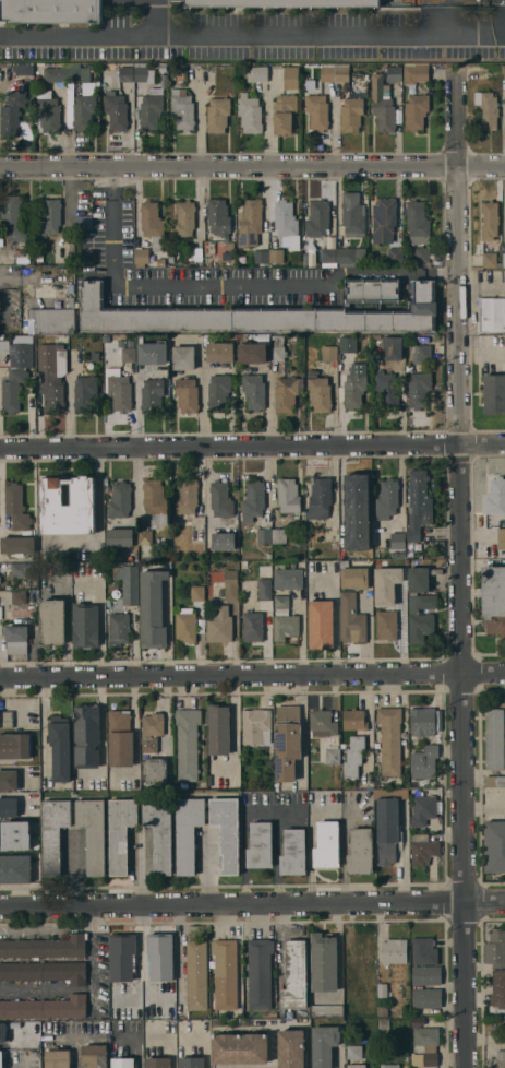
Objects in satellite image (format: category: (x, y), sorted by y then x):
building: (282, 3)
building: (56, 11)
road: (446, 16)
road: (151, 19)
road: (252, 37)
building: (163, 67)
building: (218, 69)
building: (23, 70)
building: (504, 71)
building: (77, 72)
building: (140, 72)
building: (416, 72)
building: (125, 73)
building: (256, 73)
building: (335, 73)
building: (394, 73)
building: (55, 74)
building: (151, 76)
building: (290, 78)
building: (230, 85)
building: (87, 87)
building: (357, 87)
building: (382, 104)
building: (488, 108)
building: (151, 109)
building: (182, 109)
building: (116, 110)
building: (48, 111)
building: (83, 111)
building: (317, 111)
building: (416, 111)
building: (12, 112)
building: (285, 112)
building: (217, 114)
building: (250, 114)
building: (351, 115)
road: (252, 165)
road: (112, 185)
building: (113, 200)
building: (352, 214)
building: (50, 215)
building: (218, 216)
building: (12, 217)
building: (184, 218)
building: (318, 218)
building: (490, 219)
building: (384, 221)
building: (250, 223)
building: (287, 223)
building: (418, 223)
building: (153, 224)
building: (351, 254)
building: (422, 254)
building: (142, 256)
building: (261, 256)
building: (277, 256)
building: (328, 257)
building: (395, 257)
building: (490, 259)
building: (171, 260)
building: (160, 262)
building: (375, 262)
road: (388, 275)
road: (178, 286)
road: (482, 289)
building: (374, 292)
building: (71, 301)
building: (492, 313)
building: (254, 315)
building: (52, 321)
building: (376, 336)
building: (32, 337)
building: (340, 341)
building: (393, 347)
building: (278, 348)
building: (220, 351)
building: (253, 352)
building: (423, 352)
building: (153, 353)
building: (329, 353)
building: (129, 354)
building: (95, 356)
building: (183, 357)
building: (15, 372)
building: (50, 377)
building: (387, 387)
building: (118, 389)
building: (419, 389)
building: (353, 390)
building: (218, 391)
building: (254, 391)
building: (84, 392)
building: (318, 392)
building: (288, 393)
building: (494, 393)
building: (152, 395)
building: (187, 395)
road: (203, 401)
road: (252, 447)
road: (0, 488)
building: (288, 495)
building: (187, 496)
building: (495, 497)
building: (320, 498)
building: (387, 498)
building: (220, 499)
building: (254, 499)
building: (120, 500)
building: (156, 502)
building: (419, 503)
building: (68, 506)
building: (16, 507)
building: (357, 511)
road: (101, 522)
building: (264, 535)
building: (278, 535)
building: (120, 537)
building: (501, 537)
building: (398, 539)
building: (223, 541)
building: (145, 543)
building: (16, 546)
building: (395, 554)
building: (402, 554)
building: (268, 555)
building: (19, 570)
building: (263, 570)
road: (460, 575)
building: (288, 578)
building: (354, 578)
building: (129, 584)
building: (230, 584)
building: (264, 589)
building: (398, 591)
building: (197, 593)
building: (19, 597)
building: (378, 598)
building: (494, 598)
building: (281, 602)
building: (420, 605)
building: (152, 608)
building: (351, 618)
building: (52, 621)
building: (386, 621)
building: (321, 624)
building: (185, 625)
building: (219, 625)
building: (85, 626)
building: (253, 626)
building: (286, 626)
building: (118, 629)
building: (16, 639)
road: (252, 676)
building: (5, 720)
building: (354, 720)
building: (422, 722)
building: (323, 723)
building: (256, 726)
building: (219, 729)
building: (152, 731)
building: (86, 735)
building: (120, 738)
building: (494, 738)
building: (389, 739)
building: (287, 741)
building: (188, 743)
building: (14, 746)
building: (60, 748)
building: (333, 756)
building: (353, 756)
building: (424, 762)
building: (157, 769)
building: (9, 780)
building: (494, 781)
building: (159, 786)
building: (9, 807)
building: (423, 809)
building: (8, 826)
building: (387, 830)
building: (227, 831)
building: (120, 832)
building: (159, 832)
building: (188, 832)
building: (93, 833)
building: (53, 834)
road: (243, 842)
road: (310, 843)
building: (327, 844)
building: (260, 845)
road: (276, 846)
building: (494, 846)
building: (424, 847)
building: (293, 852)
building: (360, 852)
building: (15, 868)
road: (74, 870)
road: (252, 906)
building: (46, 947)
building: (495, 948)
building: (394, 951)
building: (424, 951)
building: (361, 952)
building: (122, 956)
building: (160, 956)
road: (96, 959)
building: (324, 962)
building: (45, 972)
building: (225, 973)
building: (260, 973)
building: (196, 975)
building: (294, 975)
building: (426, 975)
building: (498, 988)
building: (383, 990)
building: (426, 998)
building: (45, 1008)
building: (327, 1011)
building: (383, 1011)
building: (503, 1020)
building: (384, 1024)
building: (3, 1033)
building: (324, 1045)
building: (425, 1045)
road: (273, 1046)
building: (240, 1048)
building: (291, 1048)
road: (75, 1051)
building: (354, 1052)
building: (95, 1056)
building: (58, 1058)
building: (501, 1059)
building: (1, 1063)
building: (123, 1063)
building: (157, 1063)
building: (191, 1063)
building: (356, 1066)
building: (389, 1066)

